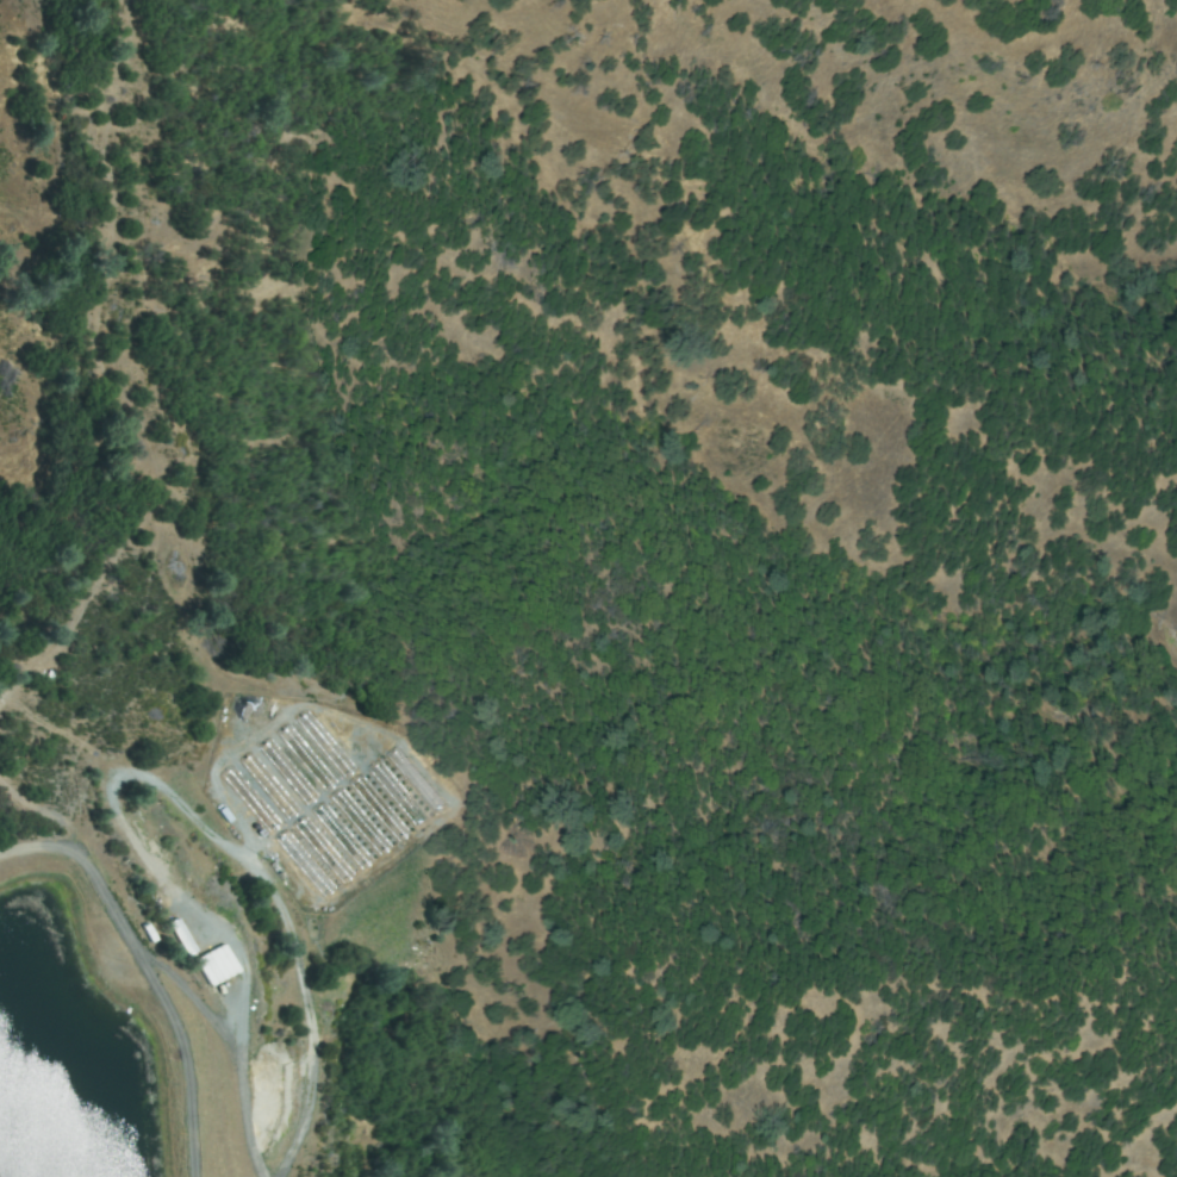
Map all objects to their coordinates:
building: (325, 741)
building: (309, 754)
building: (289, 770)
building: (419, 778)
building: (272, 786)
building: (403, 793)
building: (251, 799)
building: (384, 809)
building: (363, 822)
building: (342, 836)
building: (322, 851)
building: (306, 864)
building: (180, 936)
building: (213, 964)
road: (241, 1072)

